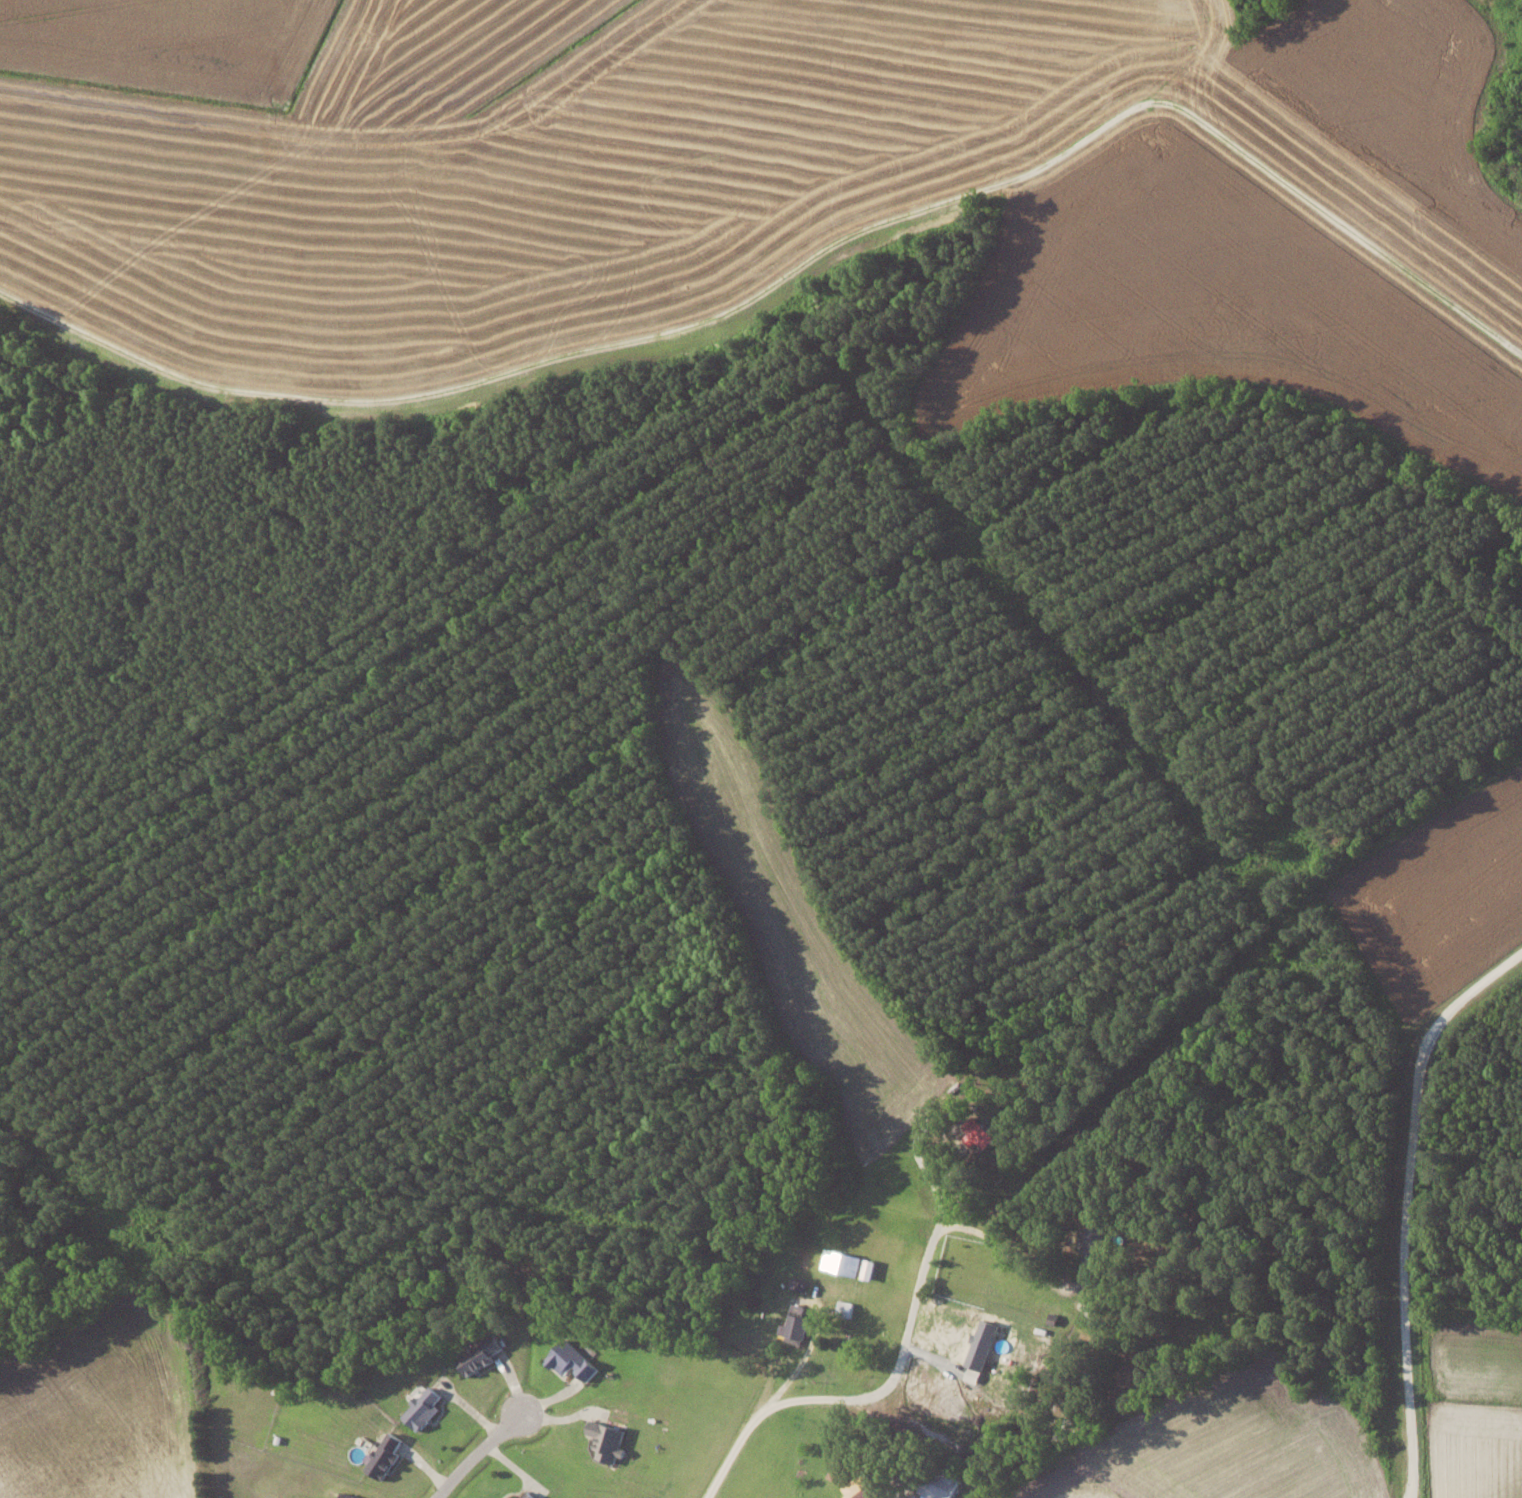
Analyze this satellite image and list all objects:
building: (977, 1132)
road: (1405, 1203)
building: (1092, 1236)
building: (840, 1261)
building: (793, 1328)
building: (980, 1349)
building: (480, 1354)
building: (571, 1360)
road: (796, 1362)
road: (889, 1378)
building: (422, 1408)
building: (607, 1440)
road: (476, 1454)
building: (384, 1455)
building: (942, 1483)
building: (861, 1488)
building: (349, 1495)
building: (914, 1496)
building: (513, 1497)
building: (531, 1497)

